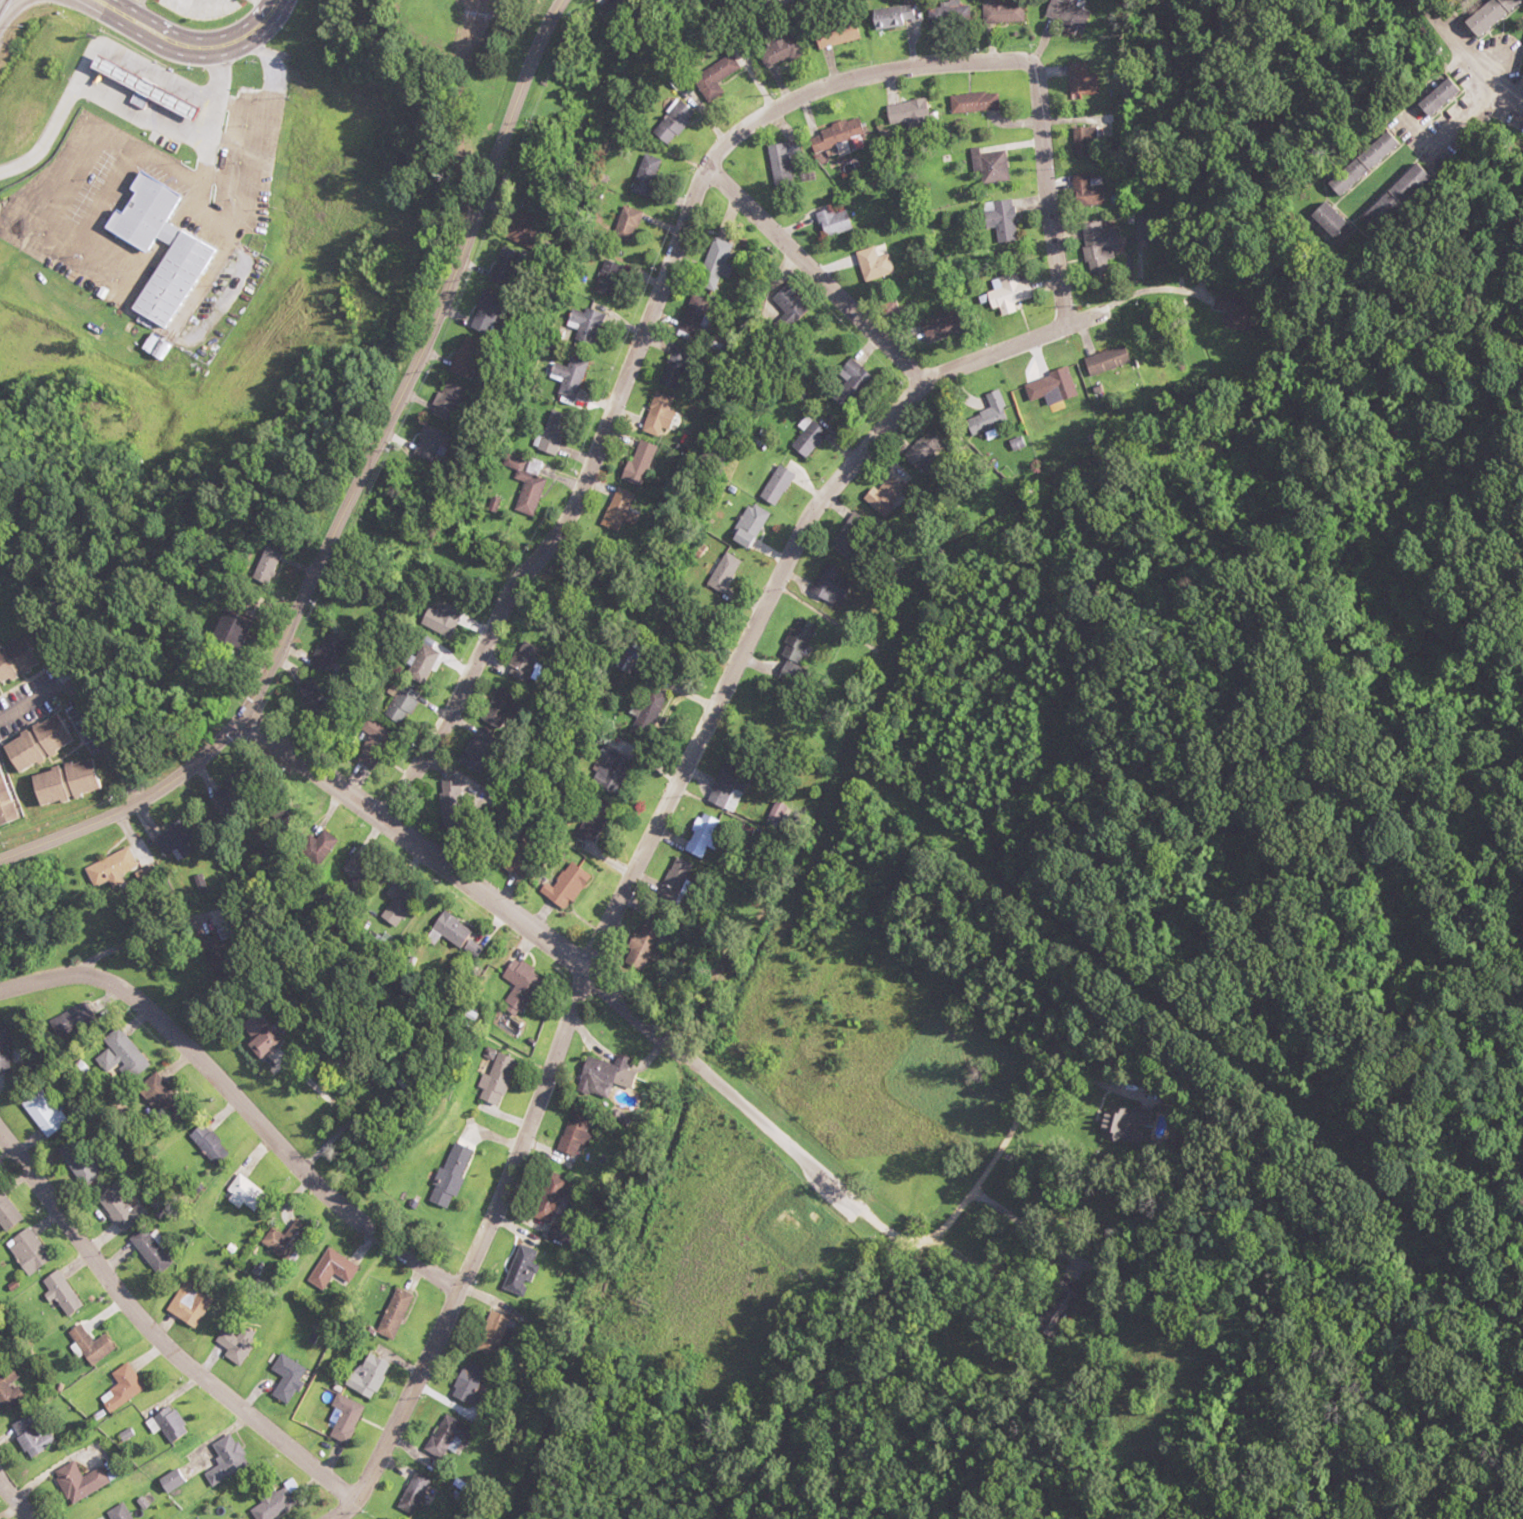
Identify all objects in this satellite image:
building: (1001, 12)
building: (948, 13)
building: (1487, 15)
building: (890, 16)
building: (835, 33)
road: (186, 46)
building: (779, 49)
road: (988, 61)
building: (713, 77)
building: (1080, 80)
building: (133, 85)
building: (1436, 97)
building: (973, 102)
road: (451, 104)
building: (906, 112)
building: (672, 122)
building: (835, 136)
building: (1081, 142)
building: (1361, 163)
building: (780, 164)
building: (988, 166)
building: (644, 174)
building: (1086, 190)
building: (1397, 193)
building: (998, 220)
building: (831, 222)
building: (1328, 222)
building: (625, 224)
building: (1095, 247)
building: (185, 251)
building: (713, 264)
building: (872, 264)
building: (505, 266)
road: (815, 276)
building: (607, 280)
building: (1006, 293)
building: (786, 304)
building: (891, 309)
building: (485, 313)
building: (690, 317)
building: (936, 324)
building: (584, 325)
building: (464, 357)
building: (1107, 362)
building: (673, 368)
building: (854, 377)
building: (566, 378)
building: (1058, 386)
building: (448, 398)
building: (654, 414)
building: (988, 416)
building: (549, 436)
building: (806, 437)
building: (426, 444)
building: (637, 463)
building: (774, 486)
building: (524, 487)
road: (355, 494)
road: (575, 509)
building: (617, 513)
building: (747, 527)
building: (264, 563)
building: (722, 573)
building: (829, 585)
building: (440, 620)
building: (228, 631)
building: (796, 641)
building: (16, 659)
building: (419, 663)
building: (306, 694)
building: (399, 706)
building: (496, 707)
building: (647, 712)
road: (85, 716)
building: (373, 736)
building: (36, 743)
building: (472, 753)
building: (608, 770)
road: (327, 779)
building: (62, 783)
building: (722, 790)
building: (447, 798)
building: (4, 807)
building: (590, 821)
building: (700, 837)
building: (177, 840)
building: (314, 847)
building: (114, 865)
road: (631, 866)
building: (354, 876)
building: (677, 876)
building: (563, 886)
building: (393, 909)
building: (445, 931)
building: (635, 952)
building: (517, 984)
road: (633, 1016)
building: (77, 1018)
building: (251, 1034)
building: (125, 1054)
building: (602, 1076)
building: (494, 1079)
building: (171, 1100)
road: (239, 1103)
building: (46, 1114)
building: (571, 1133)
building: (215, 1144)
building: (82, 1165)
building: (447, 1175)
building: (549, 1197)
building: (119, 1207)
building: (9, 1211)
building: (283, 1239)
building: (158, 1250)
building: (30, 1253)
building: (521, 1268)
building: (329, 1269)
building: (65, 1295)
building: (198, 1303)
building: (391, 1313)
building: (1061, 1316)
building: (497, 1334)
road: (159, 1336)
building: (99, 1345)
building: (231, 1346)
building: (366, 1375)
building: (284, 1378)
building: (469, 1381)
building: (11, 1388)
building: (130, 1388)
building: (342, 1418)
building: (180, 1424)
building: (39, 1436)
building: (445, 1437)
building: (230, 1454)
building: (87, 1482)
building: (412, 1493)
road: (13, 1501)
building: (271, 1505)
building: (125, 1512)

